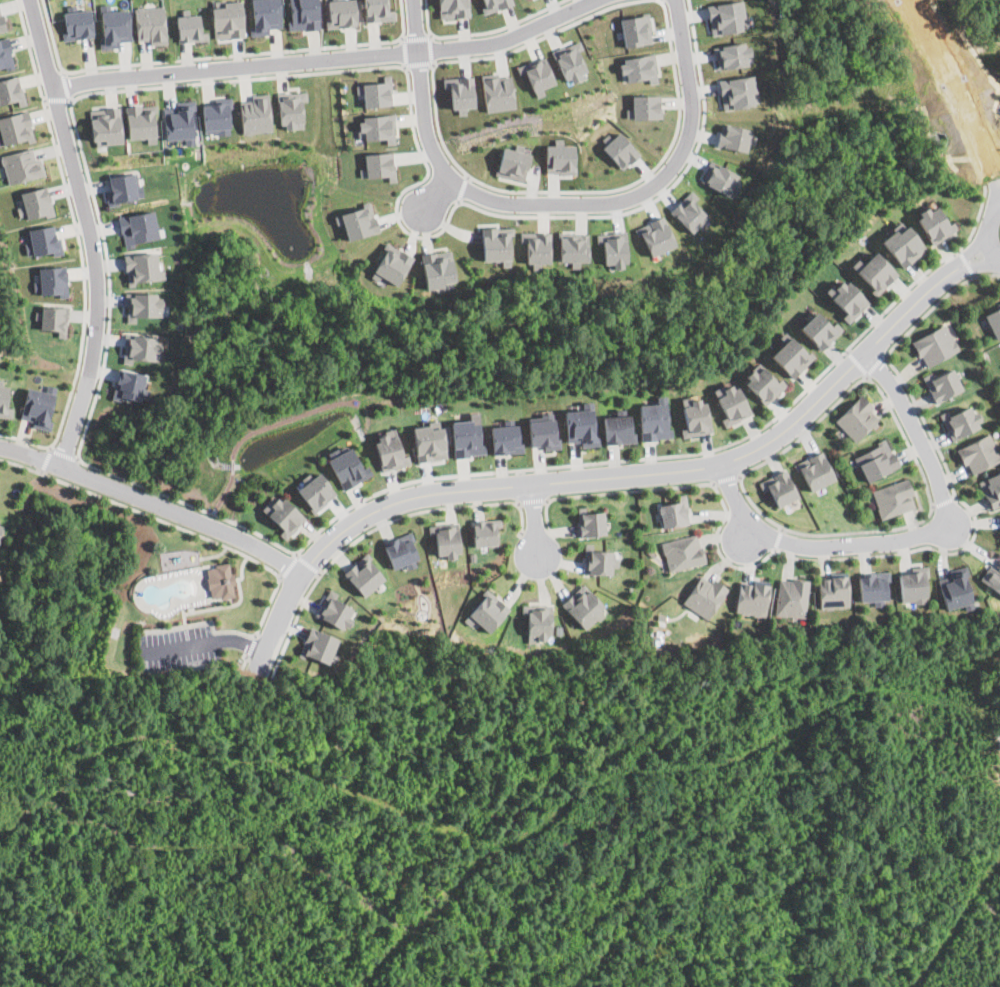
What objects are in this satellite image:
road: (660, 0)
road: (661, 0)
building: (494, 4)
building: (453, 8)
building: (376, 10)
building: (342, 13)
building: (304, 14)
building: (265, 16)
building: (724, 16)
building: (228, 19)
building: (2, 22)
building: (78, 23)
building: (151, 24)
building: (115, 26)
building: (190, 27)
building: (635, 30)
road: (480, 31)
road: (415, 36)
road: (430, 49)
road: (403, 51)
building: (6, 53)
building: (731, 54)
road: (213, 55)
road: (325, 58)
building: (569, 61)
road: (418, 63)
road: (368, 66)
building: (639, 68)
building: (536, 73)
road: (65, 85)
building: (11, 90)
building: (496, 91)
building: (736, 91)
building: (375, 92)
building: (459, 92)
road: (957, 93)
road: (56, 99)
building: (644, 106)
building: (290, 108)
building: (255, 113)
building: (217, 115)
building: (141, 121)
building: (180, 121)
building: (106, 125)
building: (16, 127)
building: (374, 127)
building: (734, 136)
building: (619, 149)
building: (559, 158)
building: (513, 162)
building: (375, 164)
building: (22, 165)
building: (719, 177)
road: (483, 182)
road: (462, 185)
building: (123, 188)
road: (660, 194)
road: (436, 195)
building: (35, 202)
road: (556, 205)
building: (688, 211)
building: (356, 221)
building: (928, 222)
building: (137, 227)
road: (986, 231)
road: (88, 232)
building: (655, 235)
building: (42, 240)
building: (495, 242)
building: (536, 245)
building: (572, 246)
road: (79, 248)
building: (613, 248)
building: (901, 248)
road: (965, 261)
building: (391, 263)
building: (142, 267)
building: (436, 268)
building: (875, 273)
building: (53, 281)
building: (846, 299)
road: (936, 302)
building: (142, 305)
building: (53, 318)
building: (993, 320)
building: (819, 330)
building: (140, 347)
building: (934, 347)
building: (790, 357)
road: (856, 360)
road: (876, 364)
building: (761, 383)
building: (128, 384)
building: (943, 385)
road: (93, 396)
building: (4, 400)
building: (730, 402)
building: (38, 406)
building: (694, 415)
building: (856, 419)
building: (653, 421)
building: (961, 422)
building: (580, 425)
building: (617, 429)
building: (542, 431)
building: (466, 436)
building: (504, 438)
building: (429, 443)
road: (62, 452)
building: (384, 453)
road: (687, 453)
building: (979, 455)
road: (45, 459)
building: (876, 461)
building: (347, 466)
road: (920, 468)
building: (815, 472)
road: (617, 475)
road: (727, 477)
road: (681, 484)
building: (780, 489)
building: (315, 490)
building: (992, 490)
road: (531, 499)
building: (893, 500)
road: (943, 501)
road: (151, 503)
building: (673, 514)
building: (284, 515)
road: (533, 522)
building: (590, 522)
road: (173, 524)
road: (372, 528)
building: (0, 529)
building: (486, 534)
road: (973, 535)
road: (913, 536)
road: (777, 538)
building: (447, 541)
building: (398, 552)
building: (682, 553)
road: (307, 563)
building: (599, 563)
road: (287, 564)
building: (364, 574)
building: (993, 577)
building: (220, 580)
building: (872, 586)
building: (912, 586)
building: (833, 591)
building: (956, 591)
building: (704, 597)
building: (791, 599)
building: (751, 600)
building: (584, 607)
building: (335, 610)
building: (487, 612)
road: (200, 622)
building: (538, 623)
road: (239, 641)
building: (319, 645)
road: (176, 646)
road: (249, 646)
building: (335, 658)

